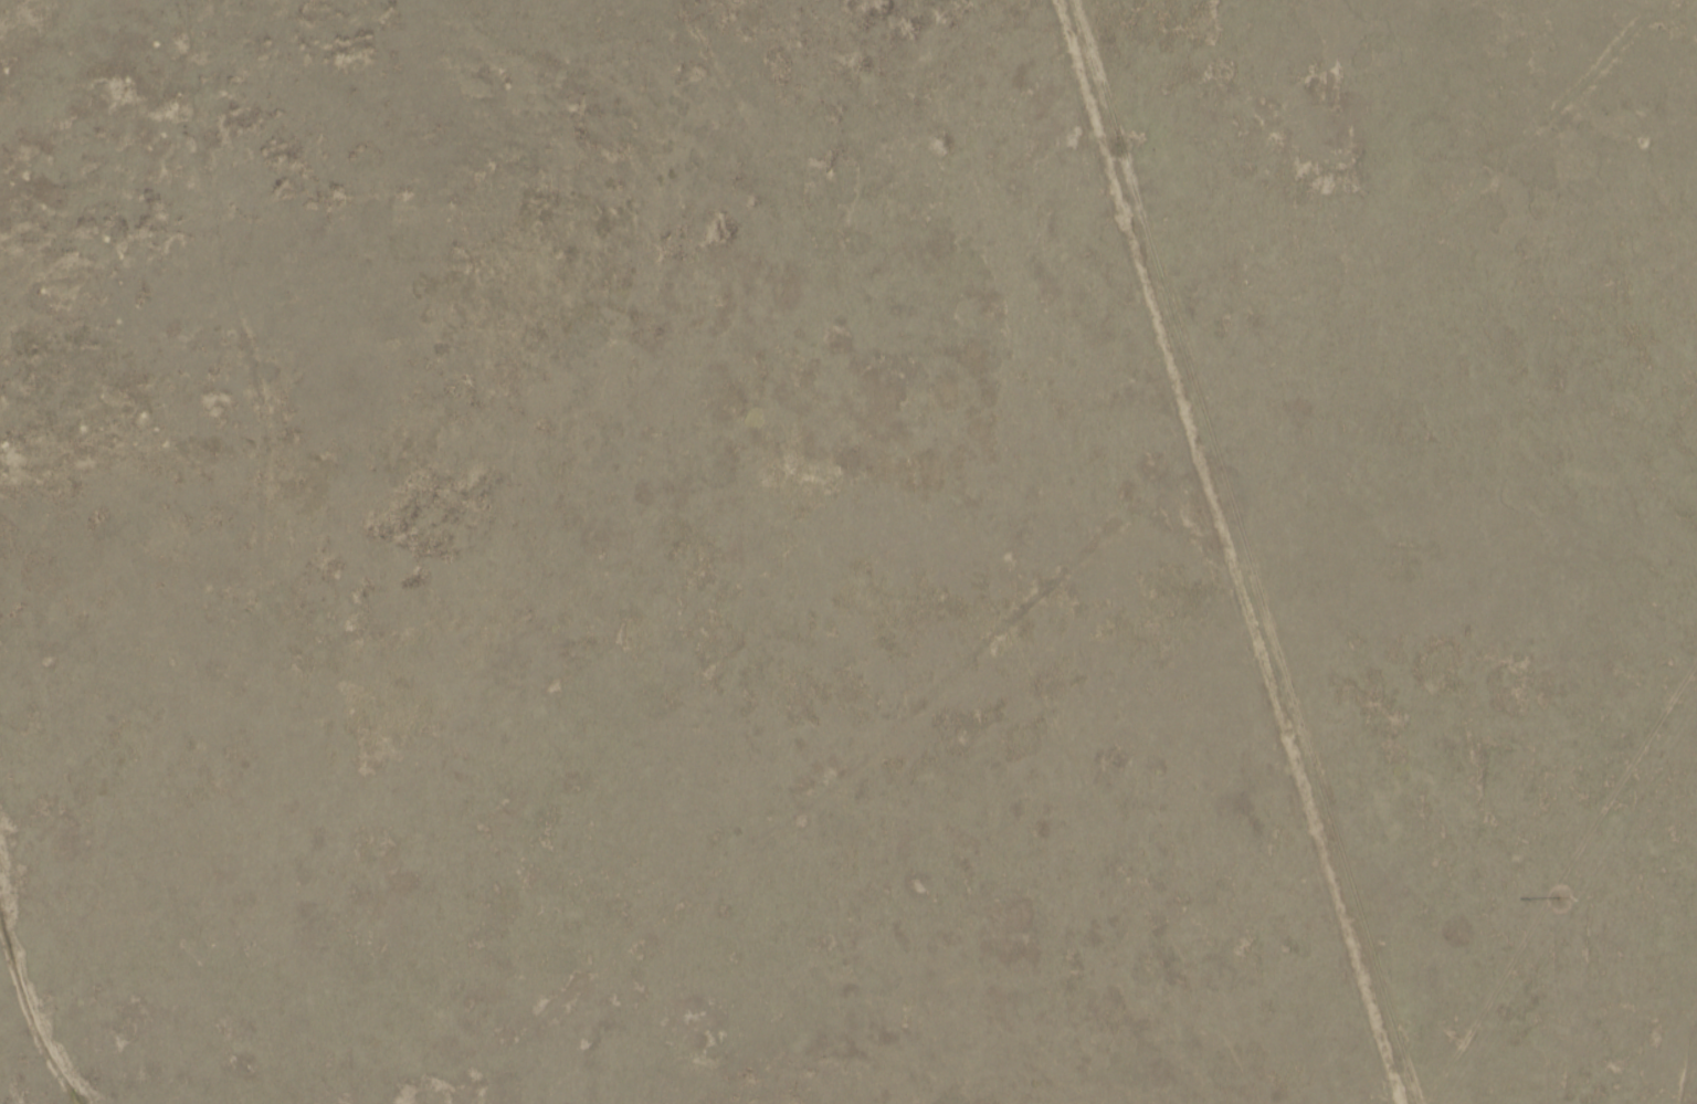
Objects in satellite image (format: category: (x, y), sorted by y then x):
road: (1218, 553)

